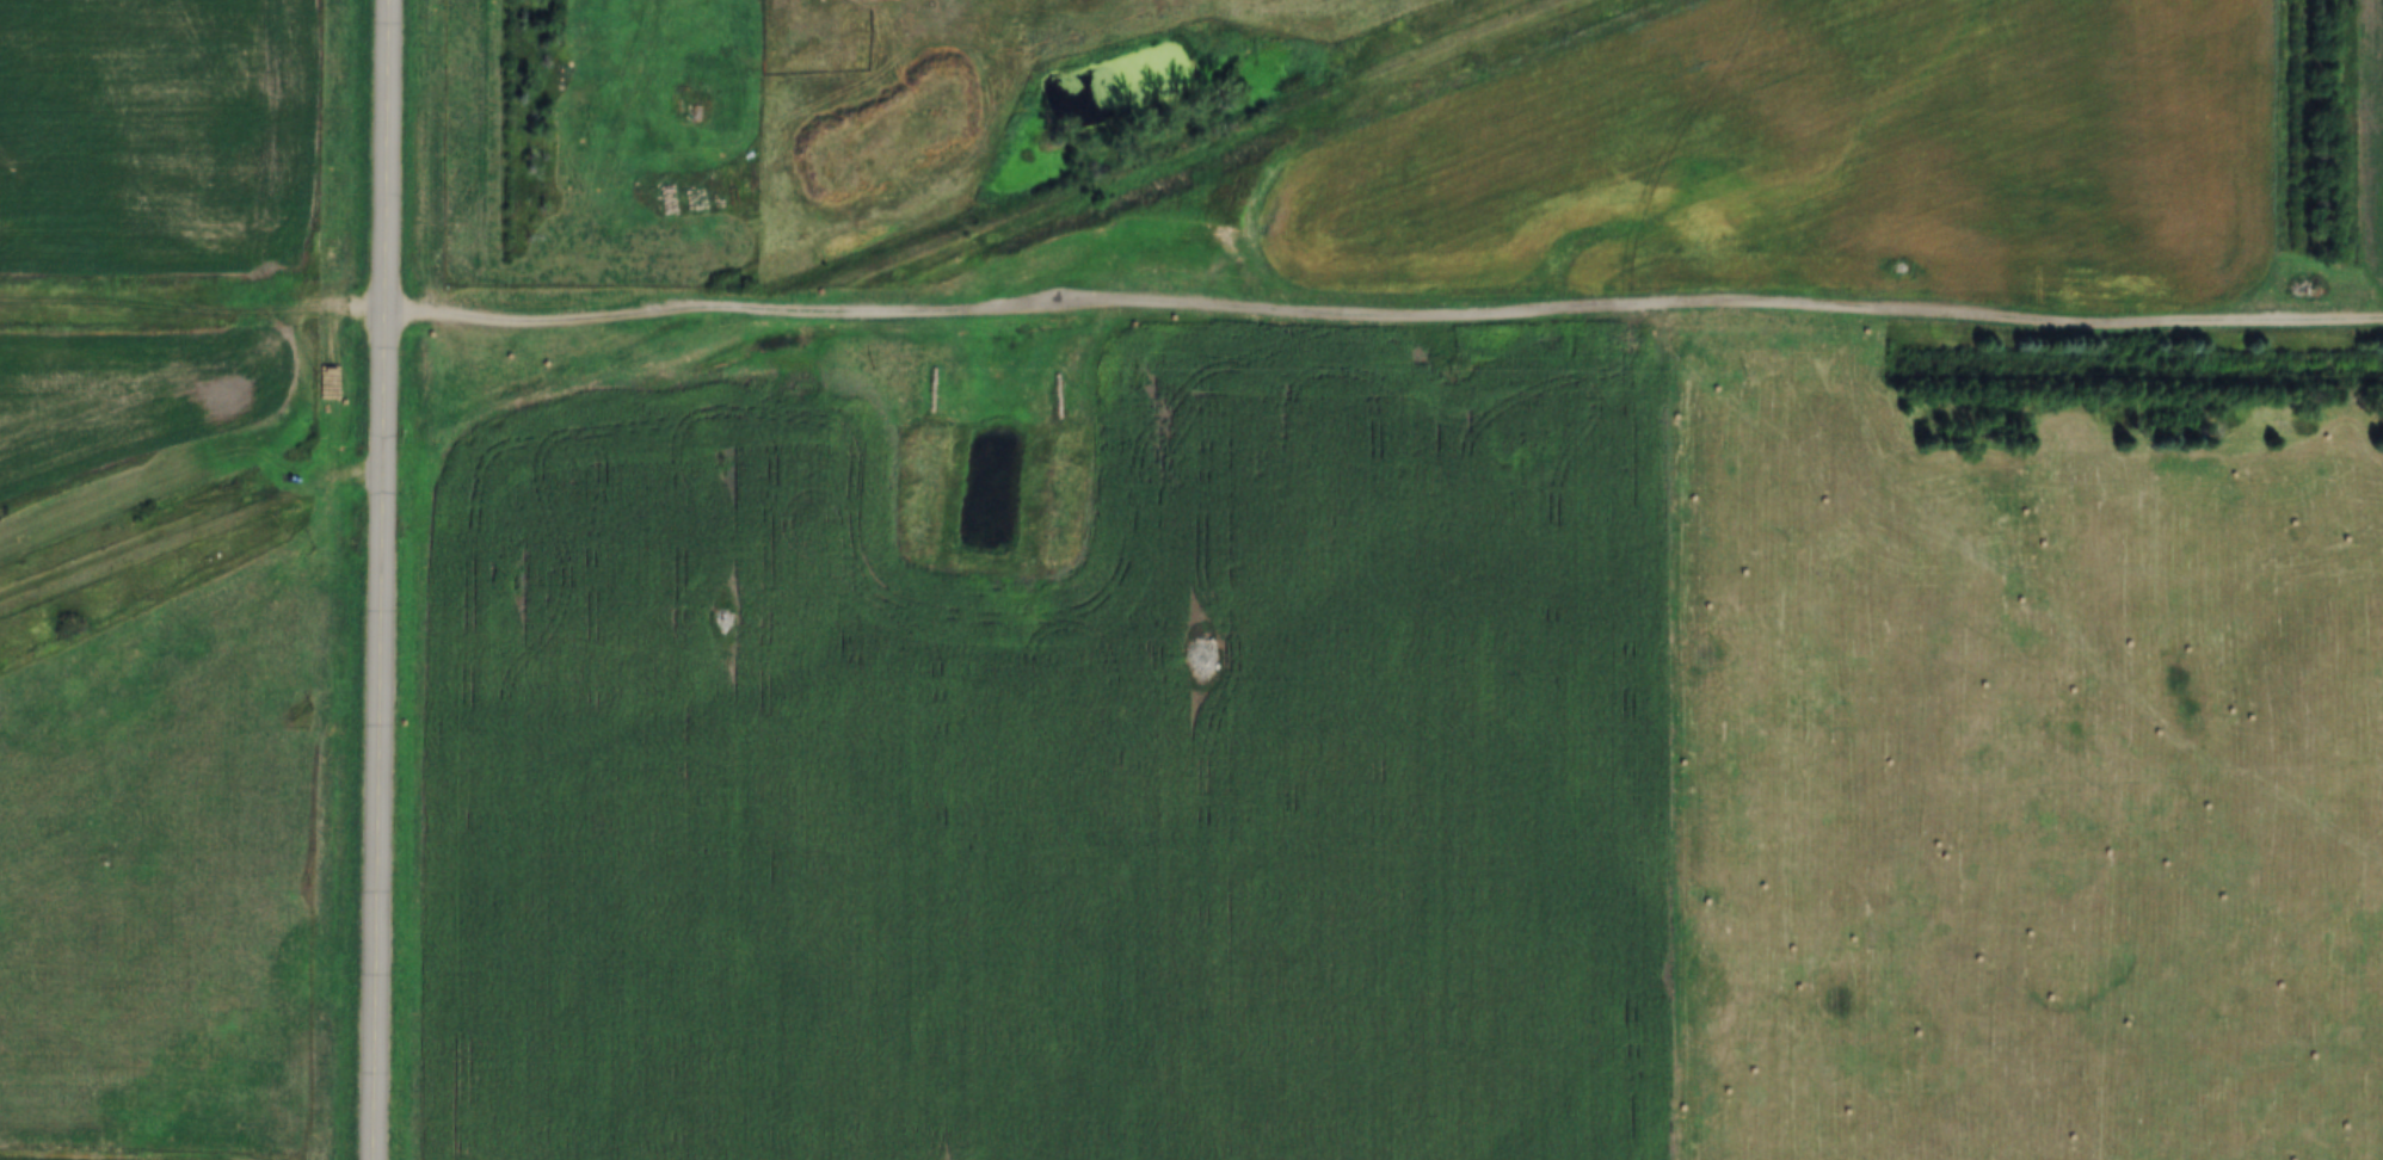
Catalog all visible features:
road: (193, 308)
road: (1383, 315)
road: (382, 579)

